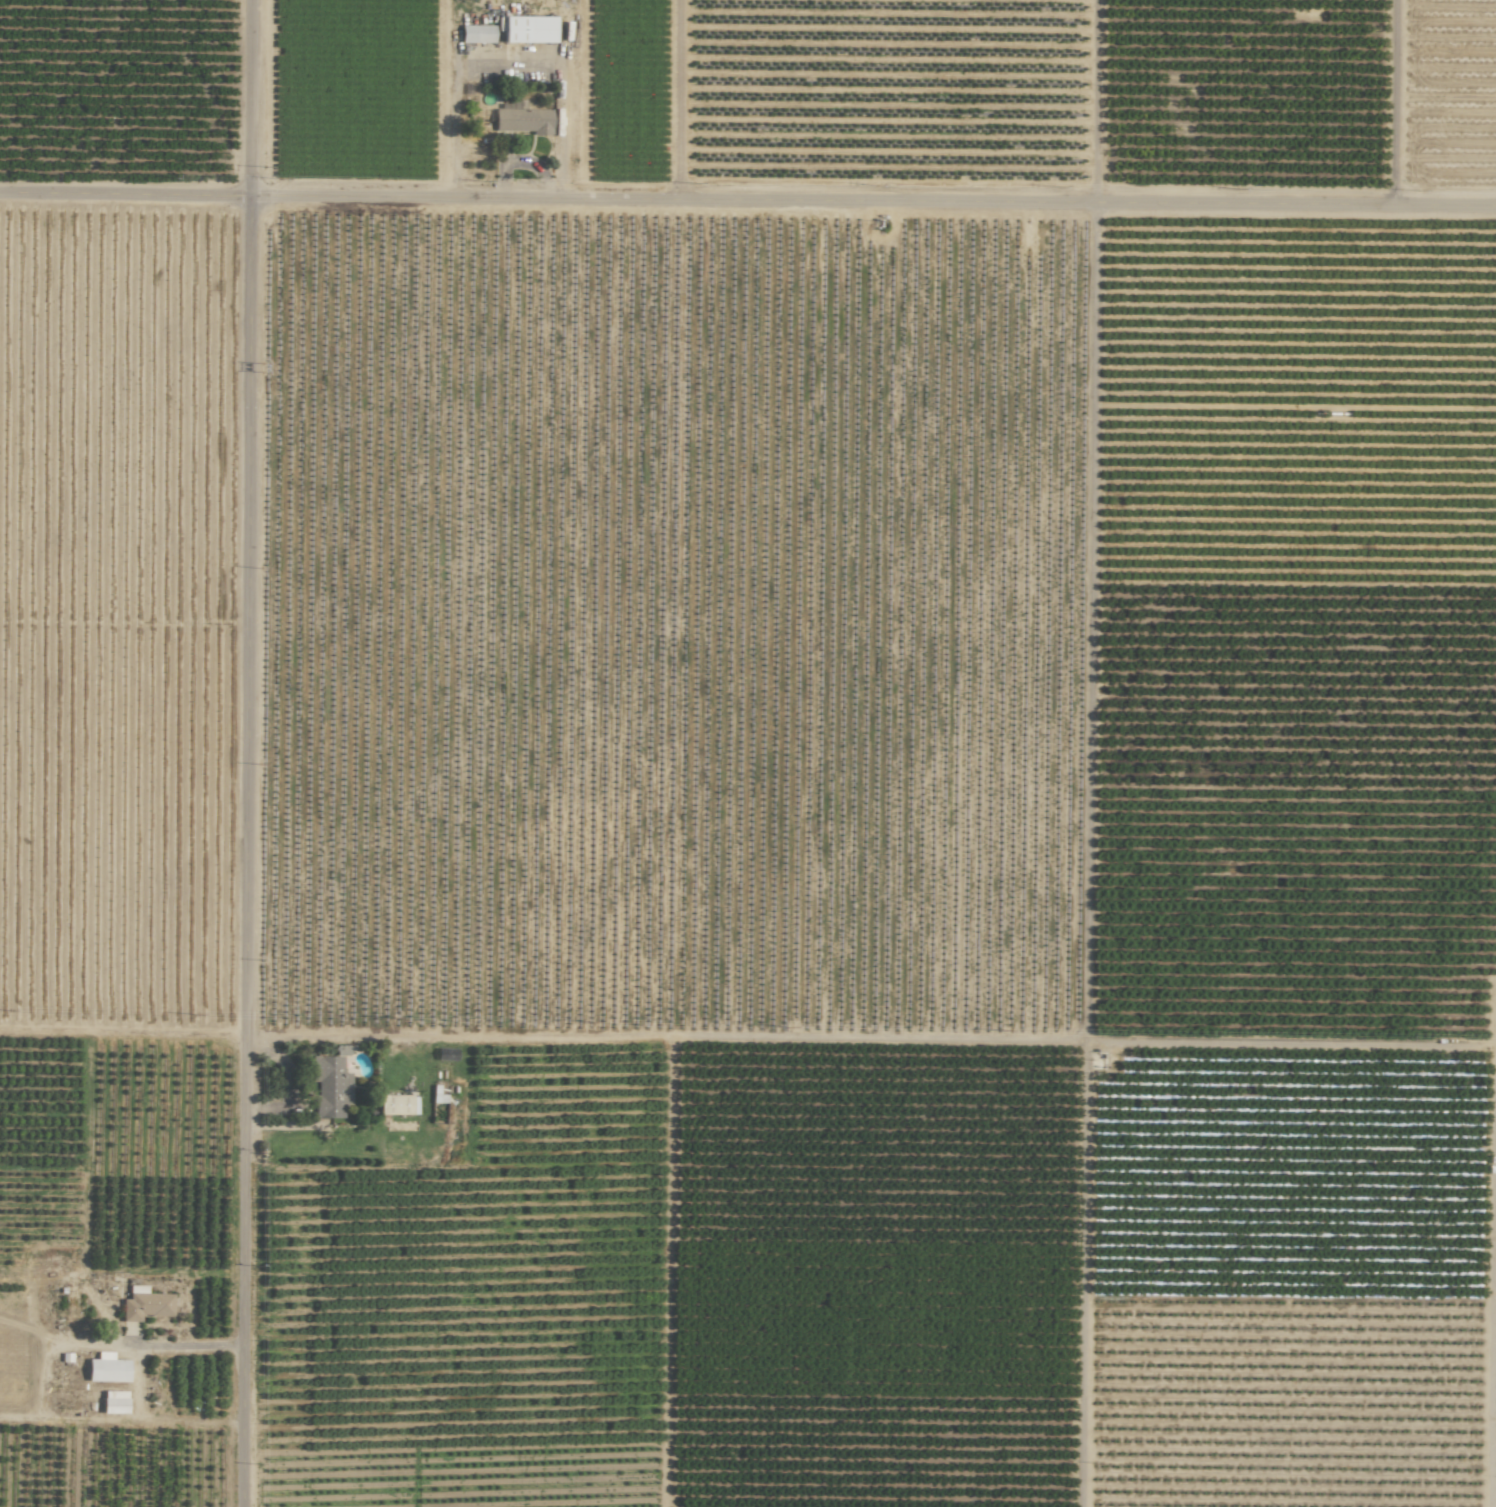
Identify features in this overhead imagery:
road: (509, 7)
building: (528, 29)
building: (476, 34)
building: (523, 120)
road: (747, 204)
road: (250, 753)
road: (293, 1082)
building: (331, 1084)
building: (397, 1105)
building: (145, 1305)
road: (182, 1345)
building: (107, 1369)
building: (114, 1398)

